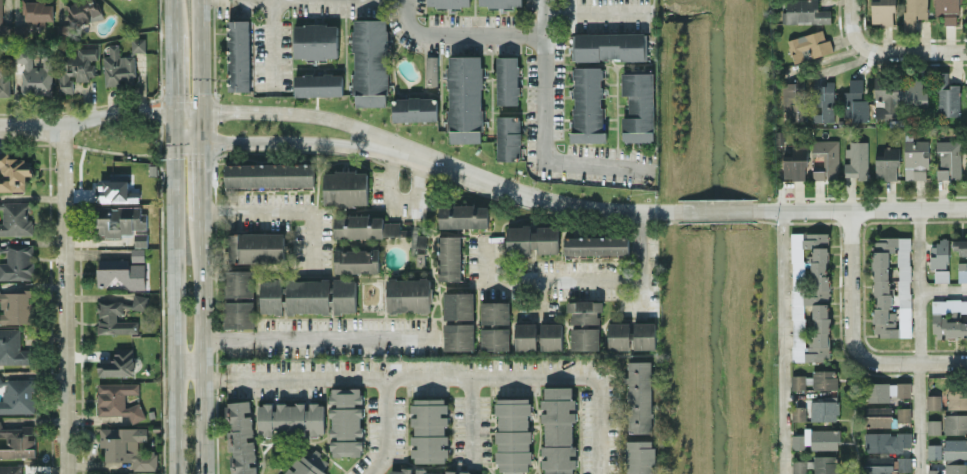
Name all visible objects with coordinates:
building: (448, 3)
building: (499, 3)
building: (38, 10)
building: (947, 10)
building: (0, 12)
building: (804, 12)
building: (882, 12)
building: (914, 12)
road: (596, 14)
road: (169, 15)
road: (462, 34)
building: (315, 40)
road: (274, 43)
building: (138, 44)
building: (809, 45)
building: (609, 46)
road: (158, 49)
road: (888, 52)
building: (238, 54)
building: (370, 62)
building: (75, 67)
building: (118, 67)
building: (431, 70)
road: (170, 71)
road: (201, 71)
road: (798, 74)
building: (4, 75)
building: (38, 78)
building: (507, 79)
road: (544, 79)
building: (318, 84)
building: (914, 92)
building: (947, 95)
building: (886, 97)
building: (464, 98)
building: (794, 99)
building: (824, 101)
building: (855, 101)
building: (587, 103)
building: (638, 106)
building: (414, 108)
road: (159, 110)
traffic signals: (170, 112)
traffic signals: (201, 112)
road: (114, 114)
road: (285, 114)
road: (30, 125)
building: (508, 137)
road: (159, 139)
traffic signals: (202, 143)
road: (275, 143)
road: (131, 154)
building: (827, 159)
building: (856, 159)
building: (916, 159)
building: (948, 159)
building: (887, 163)
road: (597, 164)
building: (795, 164)
road: (202, 171)
building: (13, 172)
building: (269, 174)
building: (345, 187)
building: (114, 191)
road: (531, 197)
road: (398, 199)
road: (860, 207)
road: (203, 210)
road: (284, 210)
road: (716, 210)
building: (463, 216)
building: (15, 218)
building: (119, 220)
building: (367, 226)
building: (140, 239)
building: (531, 239)
building: (595, 245)
building: (960, 245)
building: (256, 246)
building: (138, 253)
building: (939, 253)
building: (449, 257)
building: (356, 260)
building: (18, 262)
building: (962, 271)
building: (120, 272)
building: (941, 275)
road: (573, 278)
building: (238, 282)
road: (919, 284)
building: (891, 286)
road: (943, 289)
road: (172, 292)
building: (408, 294)
building: (271, 295)
building: (308, 295)
building: (344, 295)
building: (810, 296)
road: (637, 298)
road: (65, 299)
road: (536, 300)
building: (137, 302)
building: (458, 305)
building: (15, 306)
building: (584, 310)
building: (494, 312)
road: (852, 312)
building: (239, 314)
building: (949, 317)
building: (114, 318)
building: (550, 335)
building: (618, 335)
building: (644, 335)
building: (458, 336)
building: (525, 336)
building: (494, 338)
building: (584, 338)
road: (321, 339)
road: (781, 341)
building: (12, 347)
road: (204, 348)
road: (188, 360)
road: (944, 361)
building: (118, 363)
road: (412, 375)
road: (214, 377)
building: (824, 379)
building: (798, 381)
building: (886, 390)
building: (16, 395)
building: (639, 396)
building: (957, 398)
building: (117, 399)
building: (933, 401)
building: (824, 409)
building: (798, 413)
building: (903, 413)
building: (877, 416)
road: (919, 417)
building: (291, 418)
road: (468, 419)
building: (346, 421)
building: (955, 423)
road: (598, 424)
building: (933, 426)
road: (385, 427)
building: (429, 429)
building: (558, 430)
building: (512, 435)
building: (241, 437)
building: (816, 439)
building: (17, 441)
building: (888, 441)
building: (127, 446)
building: (955, 448)
building: (934, 450)
building: (640, 457)
building: (308, 464)
building: (825, 464)
building: (885, 464)
building: (799, 467)
building: (955, 468)
building: (10, 469)
building: (431, 471)

